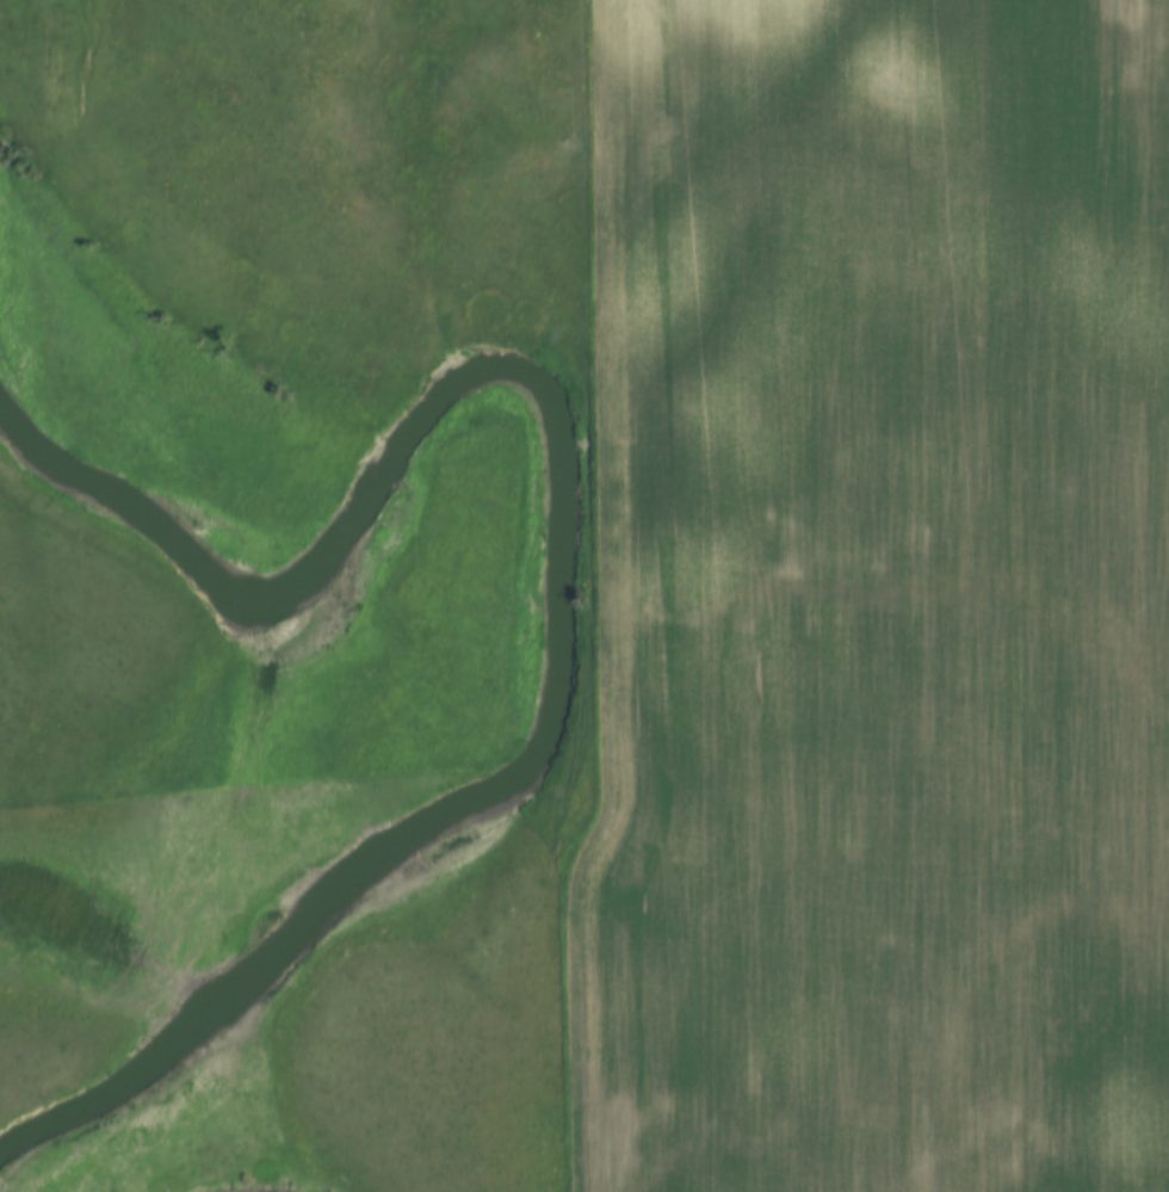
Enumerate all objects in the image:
river: (528, 557)

